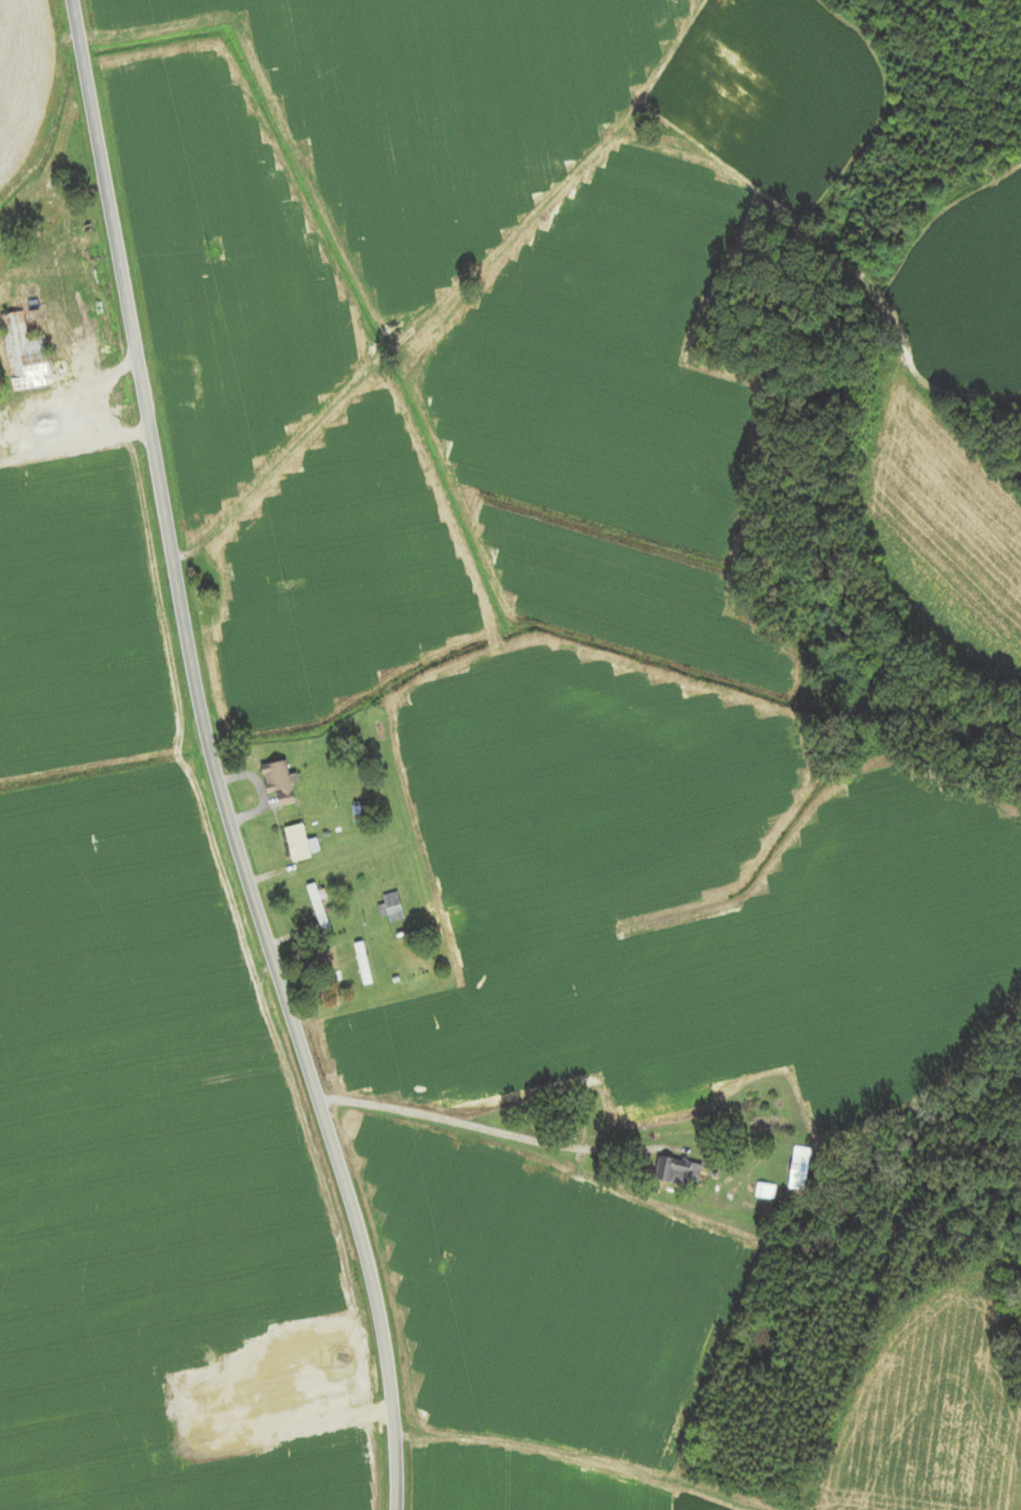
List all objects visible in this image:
building: (57, 224)
road: (117, 239)
building: (25, 354)
building: (182, 382)
building: (278, 781)
building: (299, 843)
building: (317, 907)
building: (390, 907)
building: (361, 963)
road: (277, 995)
road: (477, 1125)
building: (798, 1168)
building: (677, 1172)
building: (764, 1191)

